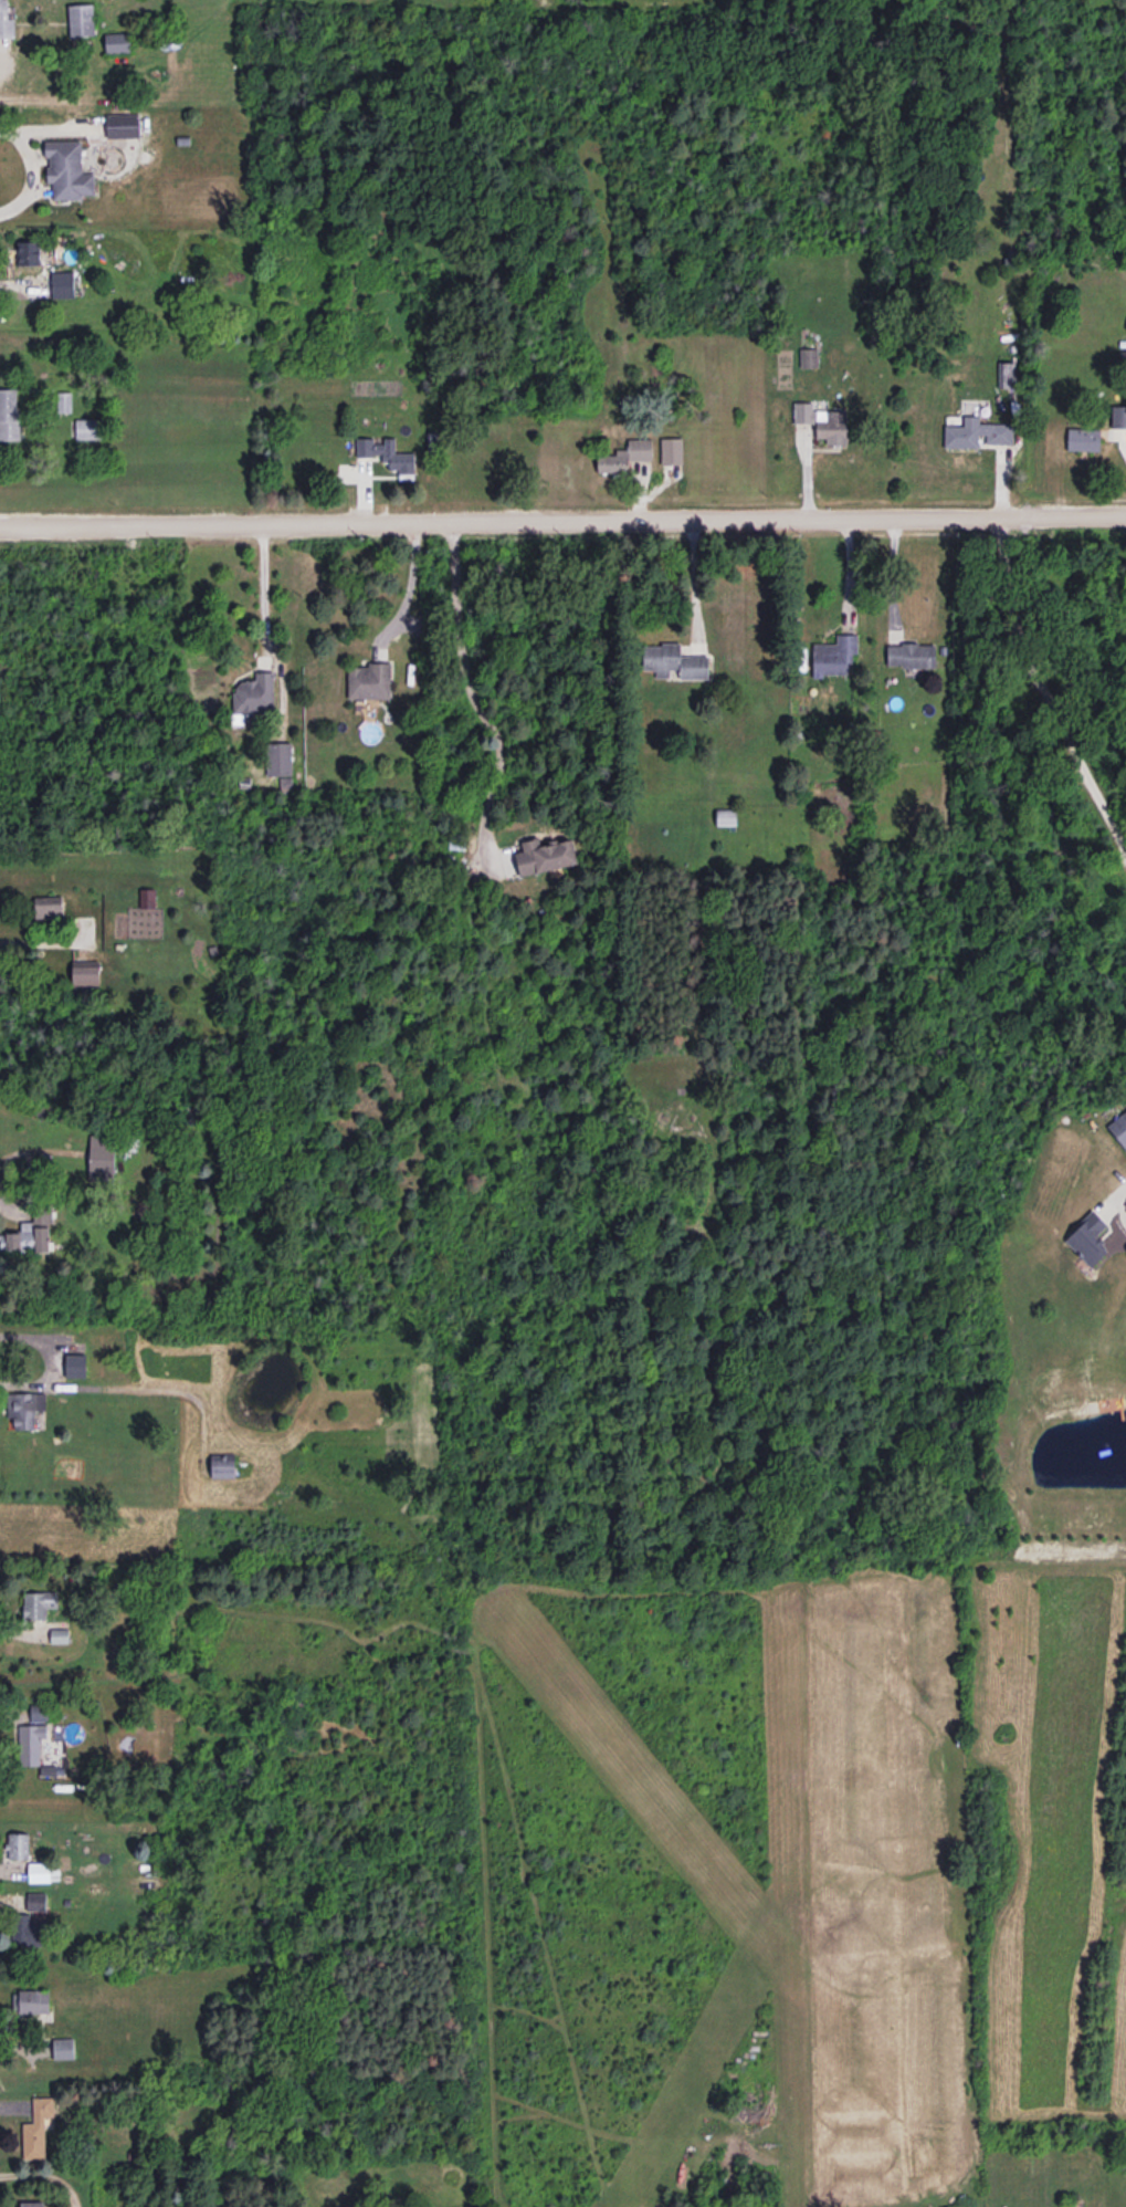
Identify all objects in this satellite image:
building: (81, 19)
building: (6, 22)
building: (117, 42)
building: (122, 125)
building: (66, 169)
road: (29, 170)
building: (33, 253)
road: (20, 283)
building: (62, 283)
building: (64, 401)
building: (9, 415)
building: (1118, 416)
building: (822, 421)
building: (88, 428)
building: (976, 432)
building: (1083, 439)
building: (671, 450)
building: (386, 453)
building: (624, 456)
road: (562, 519)
road: (892, 575)
road: (690, 578)
road: (262, 583)
road: (410, 588)
building: (834, 655)
building: (911, 655)
building: (673, 661)
building: (368, 681)
road: (471, 693)
road: (1040, 693)
building: (254, 694)
building: (280, 762)
building: (544, 856)
building: (146, 897)
building: (48, 907)
road: (30, 942)
building: (85, 972)
building: (1118, 1128)
building: (101, 1158)
road: (1105, 1205)
building: (31, 1233)
building: (1087, 1238)
road: (40, 1342)
building: (75, 1364)
road: (127, 1385)
building: (21, 1411)
building: (222, 1465)
building: (38, 1603)
building: (32, 1735)
building: (18, 1845)
building: (42, 1871)
building: (31, 1931)
building: (30, 2000)
building: (36, 2127)
road: (46, 2175)
building: (33, 2204)

